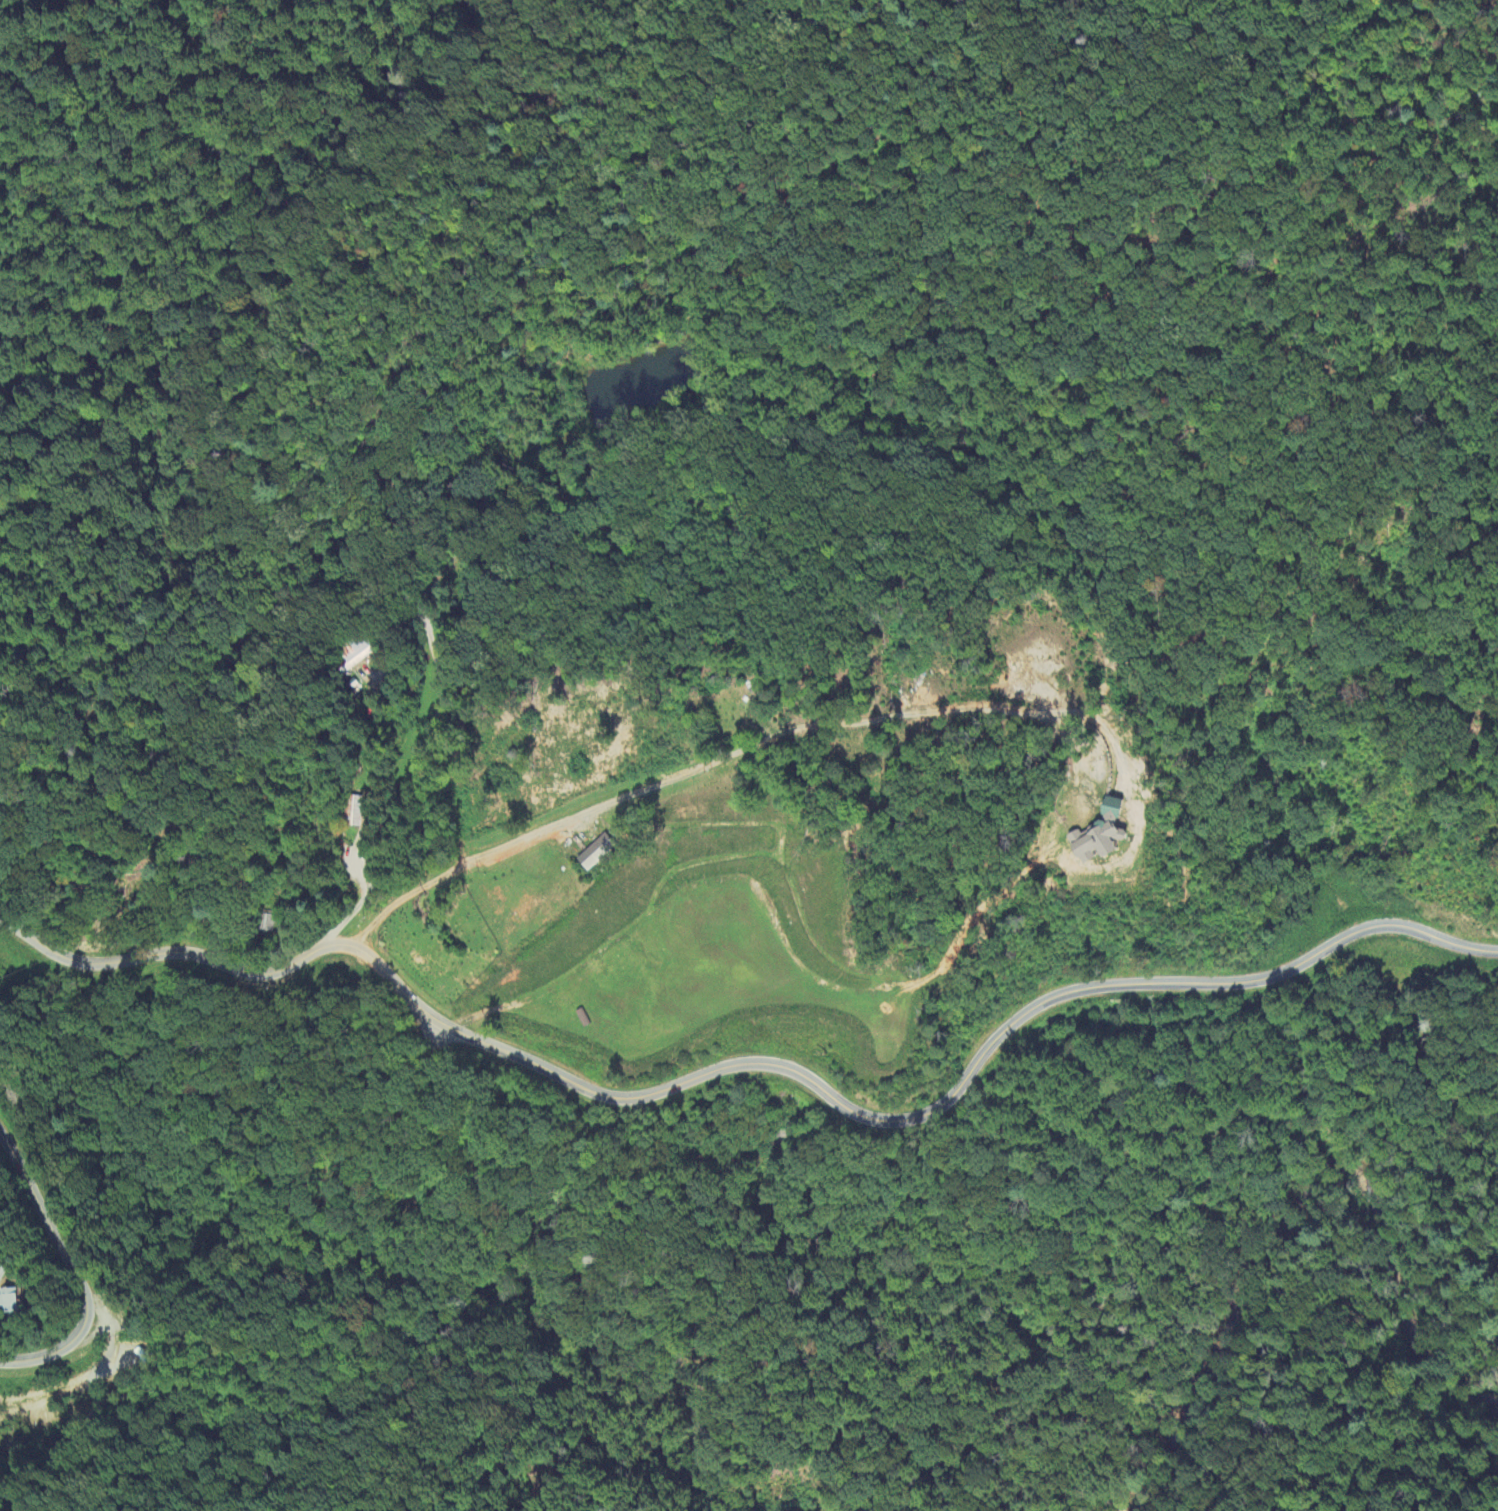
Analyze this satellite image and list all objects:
building: (357, 656)
road: (770, 736)
road: (425, 744)
building: (354, 812)
building: (1098, 835)
building: (594, 856)
road: (380, 917)
road: (765, 1062)
road: (1239, 1243)
road: (82, 1259)
building: (1, 1274)
building: (7, 1300)

